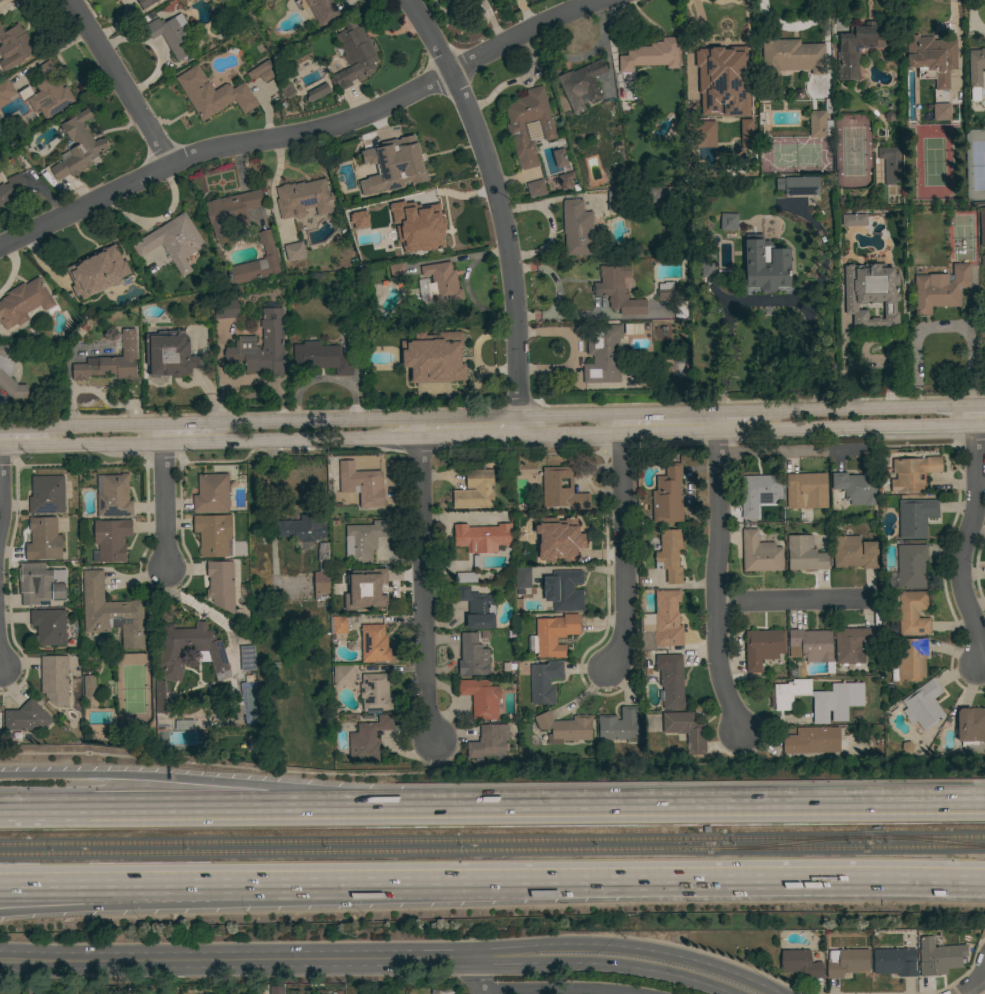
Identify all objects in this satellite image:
building: (0, 0)
building: (146, 3)
building: (321, 10)
building: (171, 35)
building: (14, 46)
building: (858, 47)
building: (650, 55)
building: (354, 56)
building: (790, 58)
building: (725, 59)
building: (932, 59)
building: (976, 67)
building: (261, 71)
road: (119, 83)
building: (581, 84)
building: (286, 90)
building: (5, 91)
building: (49, 92)
building: (317, 92)
building: (212, 94)
building: (940, 113)
building: (820, 121)
building: (515, 130)
road: (305, 132)
building: (706, 135)
building: (746, 135)
building: (78, 147)
building: (411, 153)
building: (558, 158)
building: (889, 164)
building: (565, 180)
building: (801, 186)
building: (535, 188)
building: (12, 189)
building: (660, 195)
building: (303, 199)
building: (615, 201)
road: (501, 207)
building: (231, 211)
building: (853, 220)
building: (359, 221)
building: (728, 222)
building: (982, 226)
building: (431, 228)
building: (577, 228)
building: (172, 241)
building: (294, 251)
building: (154, 260)
building: (257, 262)
building: (765, 265)
building: (706, 269)
building: (96, 271)
building: (397, 271)
building: (442, 282)
building: (940, 289)
building: (617, 290)
building: (665, 291)
building: (870, 293)
building: (23, 302)
building: (225, 309)
road: (942, 326)
building: (272, 344)
building: (602, 353)
building: (169, 354)
building: (433, 357)
building: (321, 358)
building: (110, 362)
building: (9, 375)
road: (980, 408)
road: (866, 410)
road: (736, 412)
road: (667, 413)
road: (414, 419)
road: (185, 425)
road: (102, 428)
road: (21, 430)
road: (492, 436)
building: (912, 473)
building: (360, 484)
building: (856, 487)
building: (561, 489)
building: (805, 490)
building: (475, 491)
building: (211, 493)
building: (758, 493)
building: (46, 495)
building: (112, 495)
building: (667, 496)
road: (165, 499)
building: (915, 517)
building: (303, 528)
building: (213, 535)
building: (482, 537)
road: (965, 538)
building: (43, 539)
building: (111, 539)
building: (363, 540)
building: (559, 540)
road: (622, 541)
building: (854, 552)
building: (760, 553)
building: (804, 554)
building: (669, 555)
building: (909, 567)
building: (321, 572)
building: (465, 577)
road: (716, 578)
building: (521, 579)
road: (421, 580)
building: (40, 583)
building: (220, 584)
building: (563, 590)
building: (372, 591)
road: (793, 601)
building: (477, 608)
building: (110, 612)
building: (911, 613)
building: (667, 619)
building: (647, 621)
building: (339, 625)
building: (49, 627)
building: (552, 635)
building: (373, 643)
building: (852, 644)
building: (811, 646)
building: (762, 648)
building: (189, 650)
building: (472, 656)
building: (247, 657)
building: (909, 660)
road: (0, 665)
building: (342, 675)
building: (54, 679)
building: (670, 680)
building: (544, 681)
building: (89, 686)
building: (374, 692)
building: (480, 697)
building: (819, 699)
building: (160, 703)
building: (923, 705)
building: (25, 717)
building: (183, 725)
building: (619, 725)
building: (970, 726)
building: (564, 727)
building: (686, 729)
building: (367, 739)
building: (815, 740)
building: (488, 742)
road: (243, 784)
road: (735, 802)
road: (243, 809)
railway: (492, 840)
railway: (936, 840)
railway: (776, 844)
railway: (492, 852)
road: (700, 879)
road: (207, 882)
road: (207, 900)
road: (629, 951)
building: (938, 956)
road: (238, 958)
building: (846, 962)
building: (894, 962)
building: (799, 963)
road: (605, 965)
road: (478, 975)
road: (973, 983)
building: (275, 989)
road: (551, 990)

